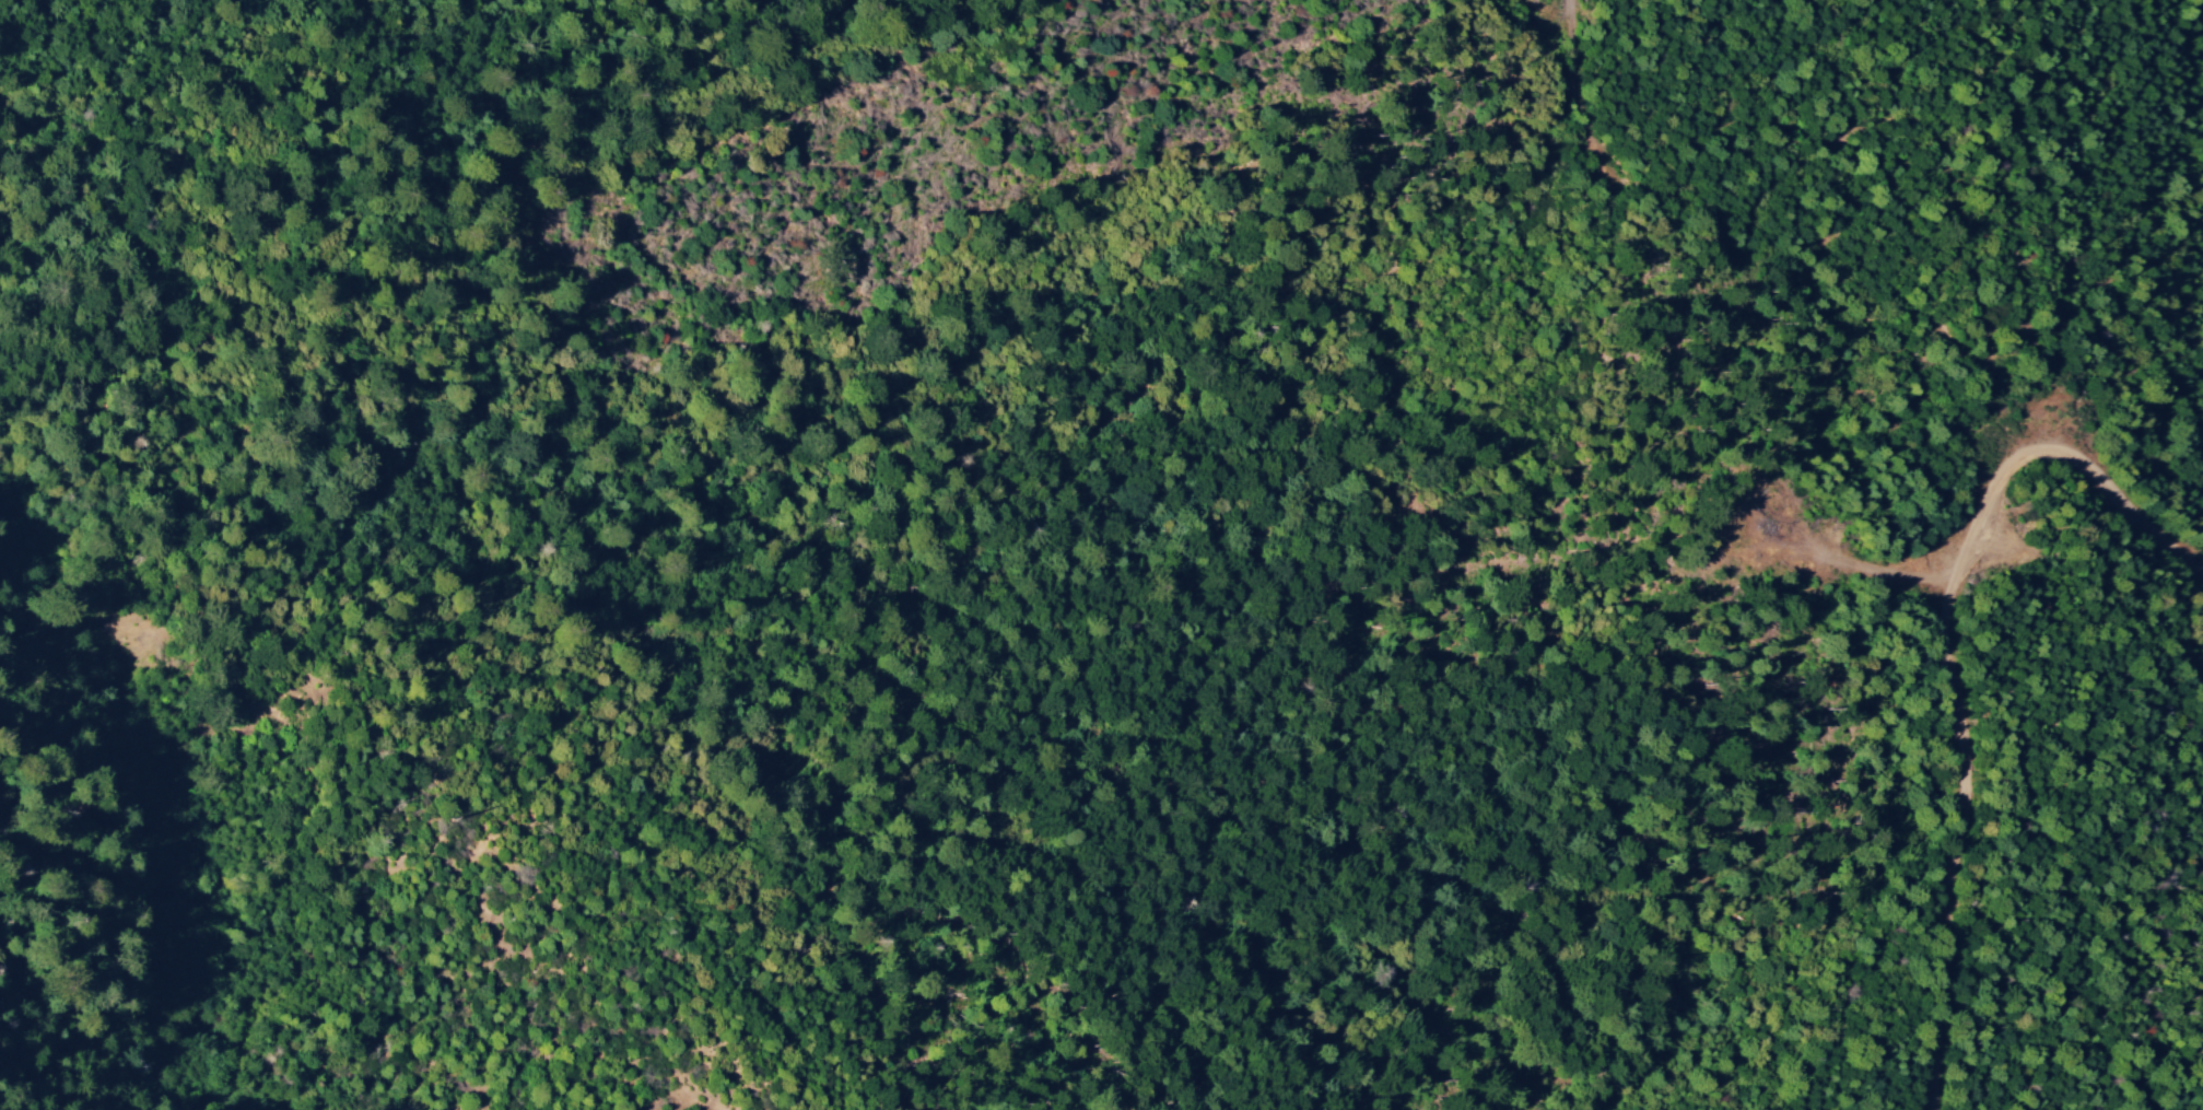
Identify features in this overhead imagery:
road: (1946, 666)

